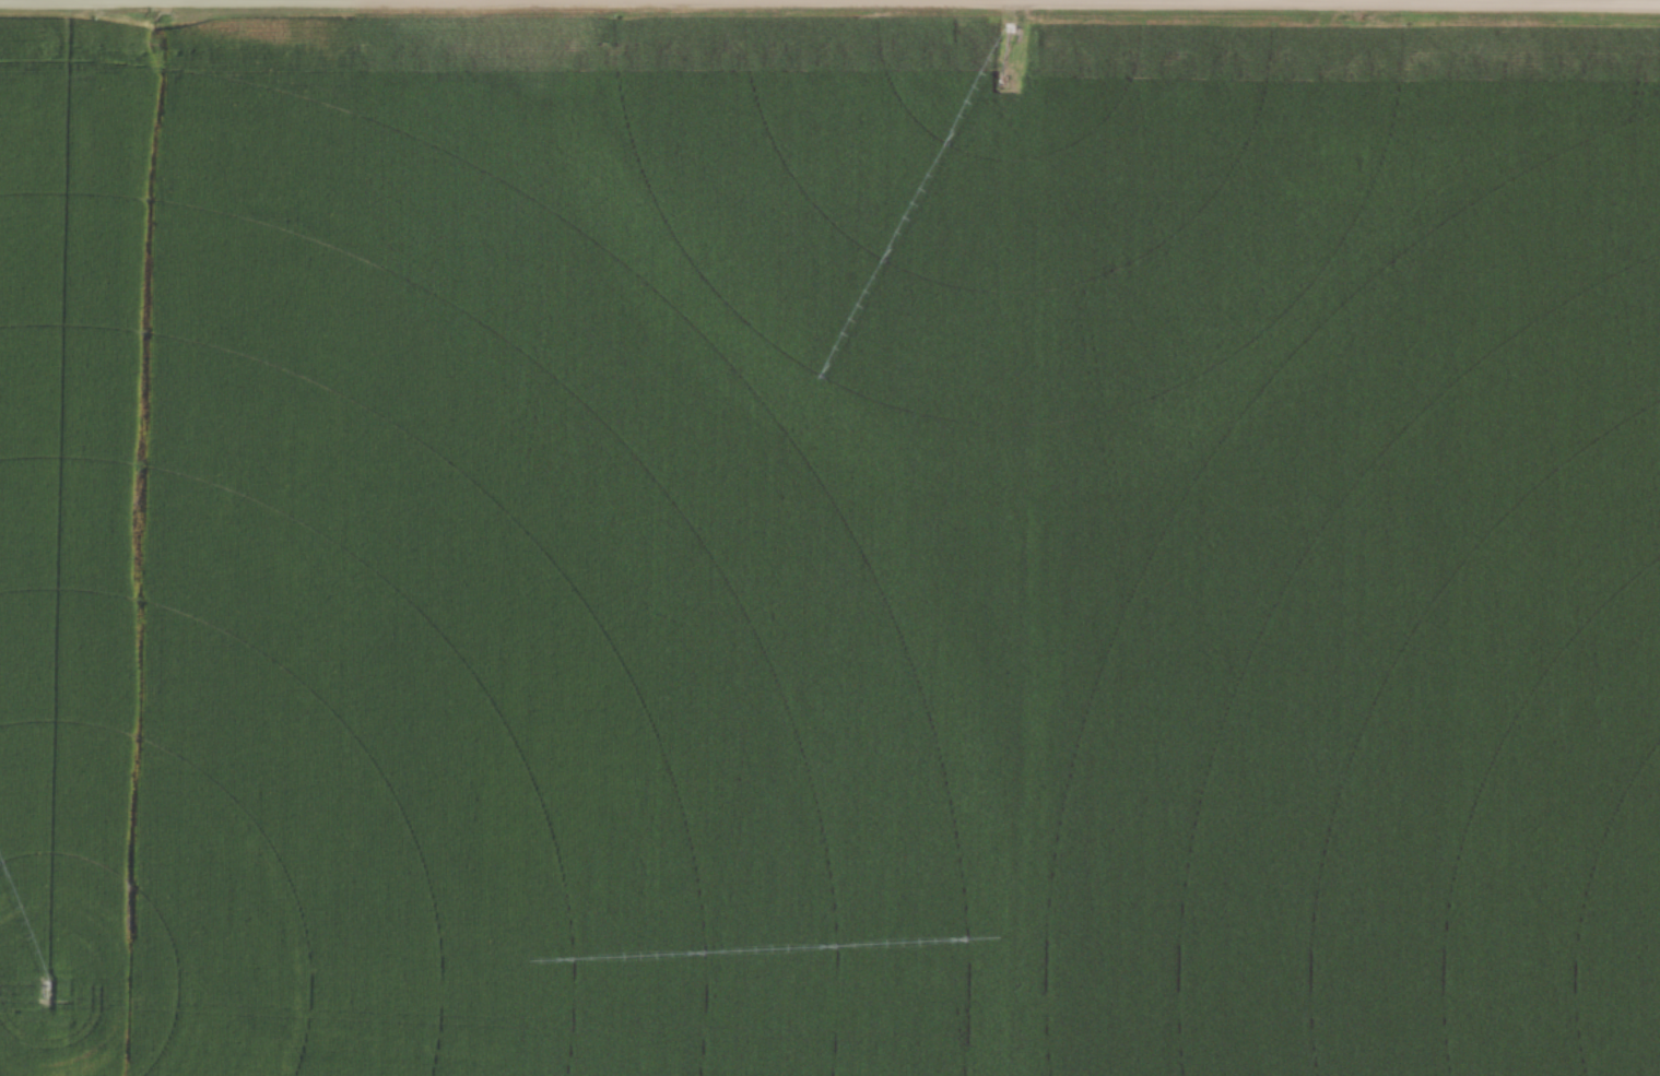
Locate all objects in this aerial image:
road: (1524, 1)

